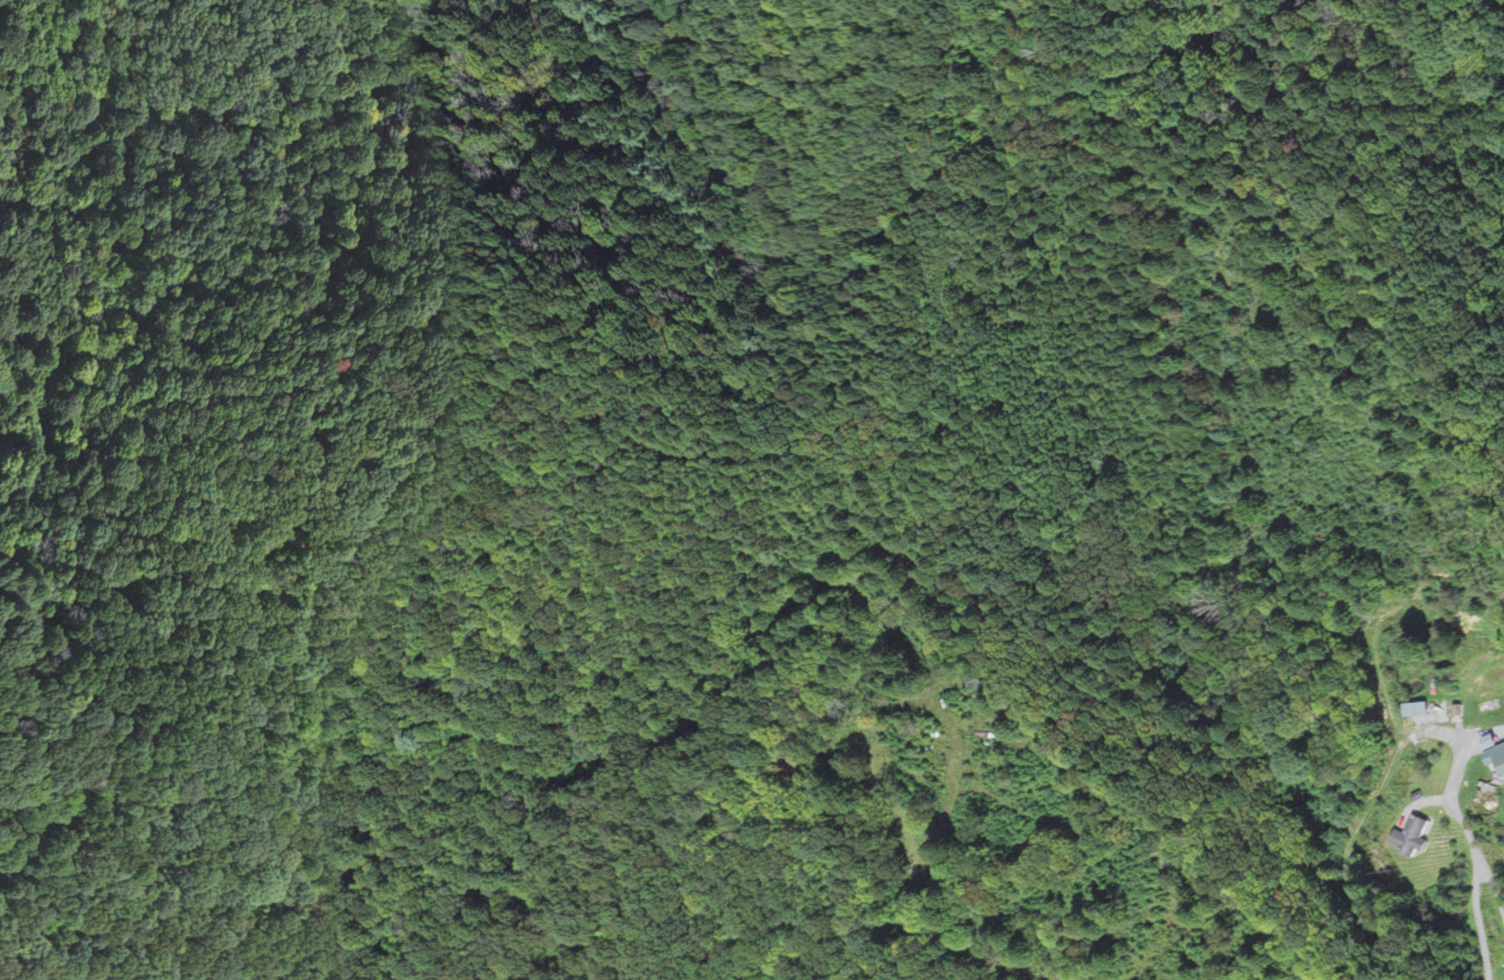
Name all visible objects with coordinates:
building: (1420, 708)
building: (1498, 756)
road: (1392, 766)
road: (1458, 810)
building: (1415, 836)

